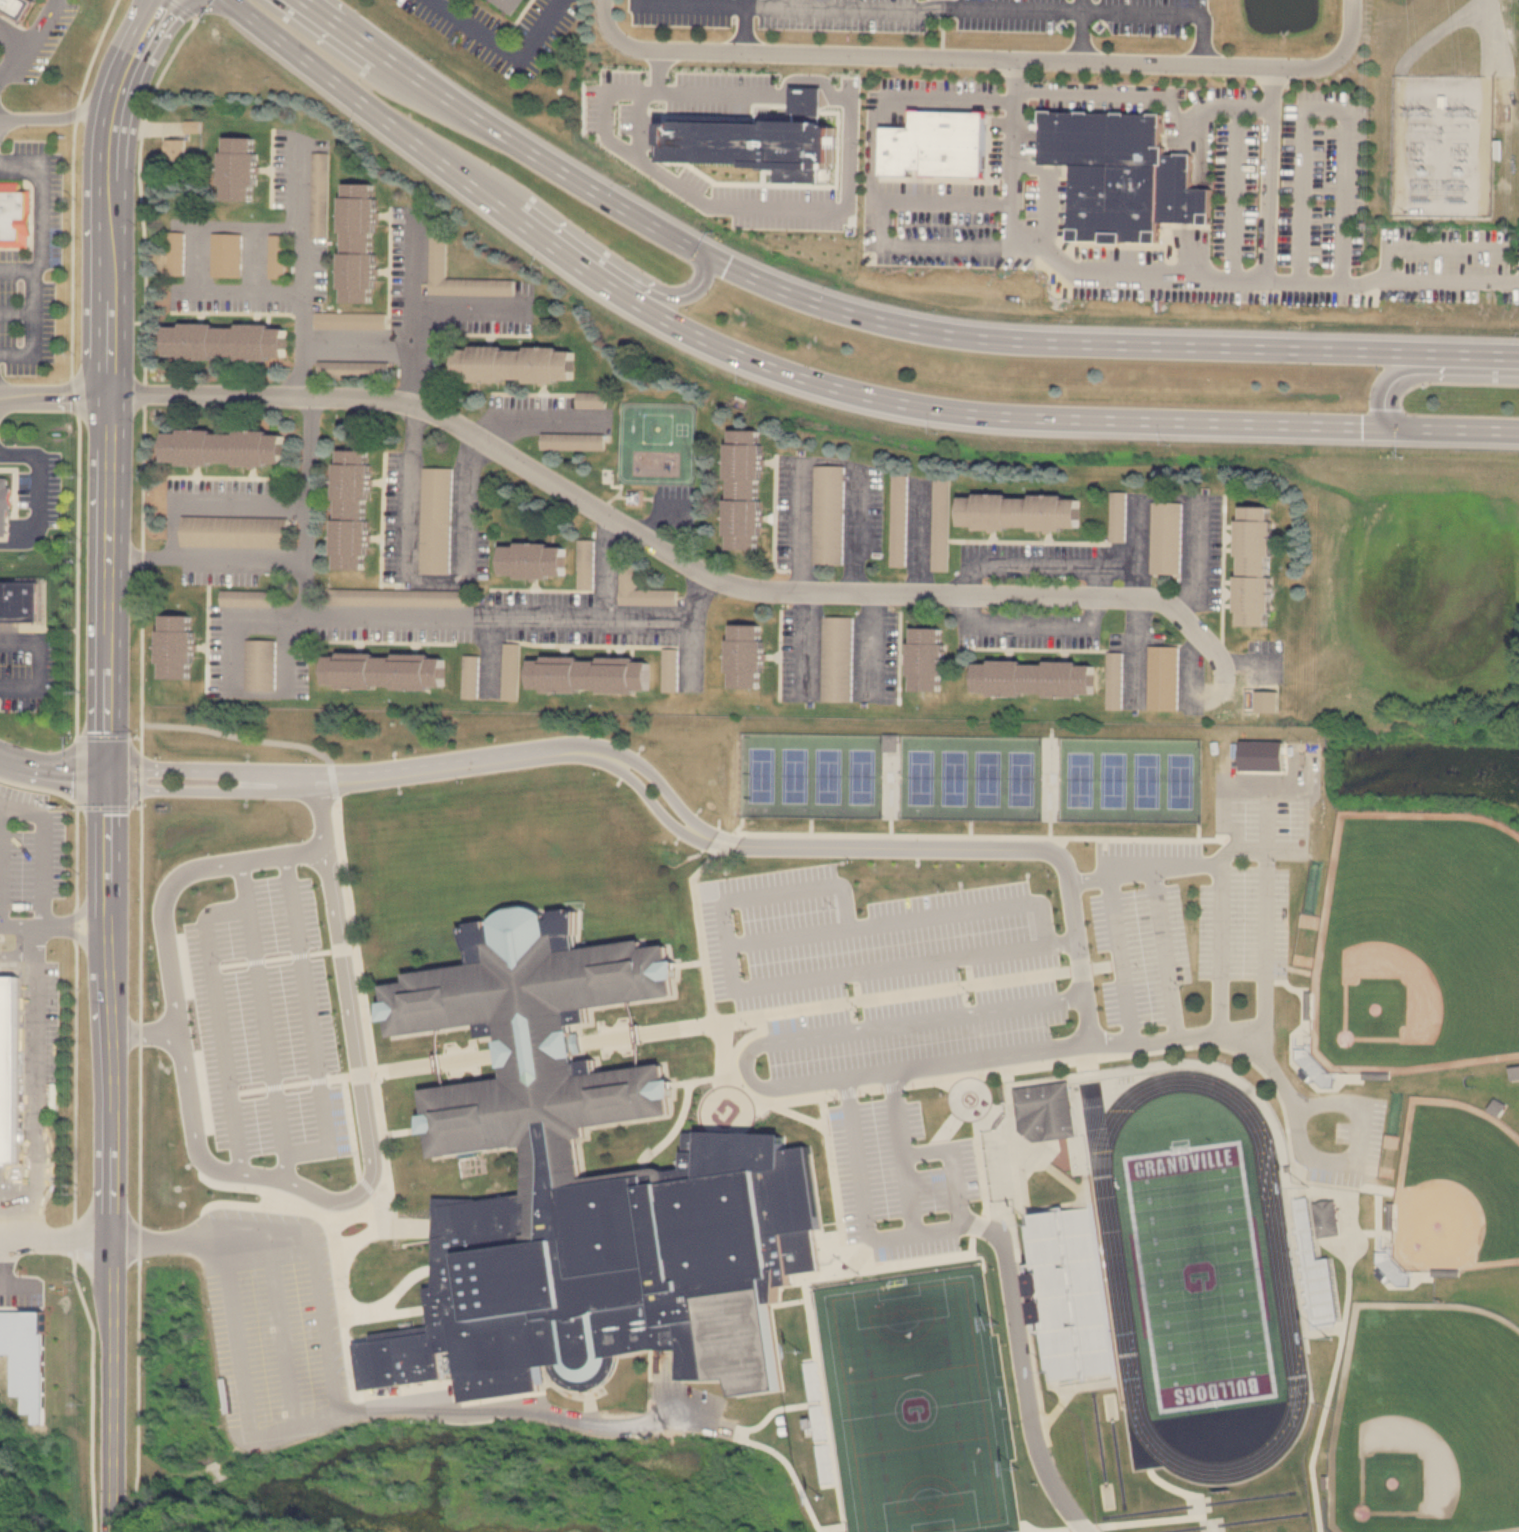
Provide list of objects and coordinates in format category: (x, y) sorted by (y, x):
road: (690, 1)
building: (520, 4)
building: (15, 8)
road: (180, 8)
road: (995, 8)
parking lot: (940, 14)
road: (741, 25)
road: (43, 28)
road: (1080, 29)
parking lot: (506, 32)
road: (1435, 33)
road: (1489, 38)
parking lot: (46, 45)
road: (13, 47)
road: (503, 48)
road: (135, 54)
road: (1495, 57)
road: (982, 58)
road: (13, 66)
road: (1441, 86)
road: (724, 95)
road: (812, 98)
building: (1439, 102)
road: (1502, 104)
road: (1198, 106)
road: (1322, 107)
road: (1252, 108)
road: (57, 113)
road: (406, 134)
road: (504, 134)
building: (752, 134)
power substation: (1439, 146)
building: (175, 150)
building: (237, 168)
road: (1267, 173)
building: (1121, 174)
road: (874, 183)
building: (318, 194)
road: (943, 203)
road: (710, 209)
road: (1439, 209)
road: (39, 214)
building: (14, 215)
building: (356, 241)
road: (1429, 244)
building: (175, 253)
traffic signals: (704, 254)
building: (224, 255)
road: (191, 256)
building: (274, 256)
building: (434, 257)
parking lot: (29, 266)
road: (1175, 275)
road: (656, 293)
road: (17, 307)
road: (409, 310)
road: (464, 313)
building: (348, 320)
road: (34, 324)
road: (355, 336)
building: (224, 340)
road: (1104, 343)
building: (513, 362)
building: (350, 369)
road: (1425, 372)
road: (300, 378)
road: (55, 399)
building: (591, 400)
road: (979, 413)
road: (541, 422)
traffic signals: (1403, 429)
road: (1461, 430)
building: (573, 441)
road: (110, 443)
building: (223, 446)
road: (42, 477)
road: (800, 483)
building: (746, 488)
parking lot: (44, 495)
road: (182, 500)
building: (5, 505)
building: (352, 509)
building: (1020, 512)
building: (830, 515)
building: (1119, 517)
road: (616, 518)
building: (436, 520)
building: (900, 520)
building: (941, 525)
building: (235, 532)
road: (15, 537)
building: (1166, 538)
road: (1137, 548)
road: (240, 555)
building: (534, 560)
road: (1197, 560)
road: (1036, 563)
building: (1256, 565)
road: (607, 567)
road: (423, 579)
road: (1099, 581)
building: (642, 589)
building: (246, 598)
building: (430, 598)
building: (21, 602)
road: (365, 619)
road: (1136, 619)
road: (692, 626)
road: (1028, 627)
road: (876, 645)
building: (177, 646)
building: (747, 656)
building: (838, 659)
building: (928, 659)
road: (39, 662)
building: (262, 664)
building: (386, 671)
building: (513, 672)
building: (590, 674)
building: (1036, 678)
building: (1164, 678)
building: (471, 679)
parking lot: (24, 683)
road: (1195, 694)
building: (1262, 697)
road: (214, 769)
road: (55, 770)
park: (761, 775)
park: (861, 775)
traffic signals: (112, 776)
park: (795, 776)
park: (828, 776)
park: (921, 777)
park: (955, 777)
park: (988, 778)
park: (1021, 778)
park: (1080, 780)
park: (1114, 780)
park: (1147, 781)
park: (1180, 781)
road: (214, 788)
road: (321, 809)
parking lot: (36, 834)
road: (1236, 838)
road: (767, 840)
road: (43, 849)
road: (283, 854)
road: (2, 865)
road: (1144, 870)
road: (1263, 916)
road: (162, 920)
road: (897, 920)
road: (59, 925)
road: (789, 934)
park: (1416, 943)
road: (1219, 949)
road: (1165, 953)
road: (1121, 957)
road: (846, 974)
parking lot: (989, 988)
road: (218, 1001)
parking lot: (265, 1012)
road: (853, 1027)
road: (147, 1029)
road: (266, 1031)
road: (312, 1034)
road: (1029, 1051)
building: (9, 1068)
road: (904, 1072)
road: (37, 1075)
road: (1293, 1109)
building: (1046, 1111)
road: (901, 1151)
road: (116, 1153)
road: (955, 1163)
road: (371, 1165)
park: (1455, 1187)
building: (587, 1191)
road: (29, 1215)
building: (1327, 1218)
road: (860, 1220)
road: (57, 1235)
building: (1377, 1249)
road: (6, 1260)
road: (317, 1264)
building: (1390, 1273)
building: (1445, 1273)
park: (1198, 1274)
track: (1116, 1275)
road: (19, 1287)
building: (1320, 1291)
building: (1073, 1293)
parking lot: (268, 1321)
road: (226, 1336)
road: (1016, 1387)
road: (531, 1408)
park: (917, 1408)
park: (1426, 1421)
road: (792, 1468)
road: (417, 1469)
road: (1071, 1531)

